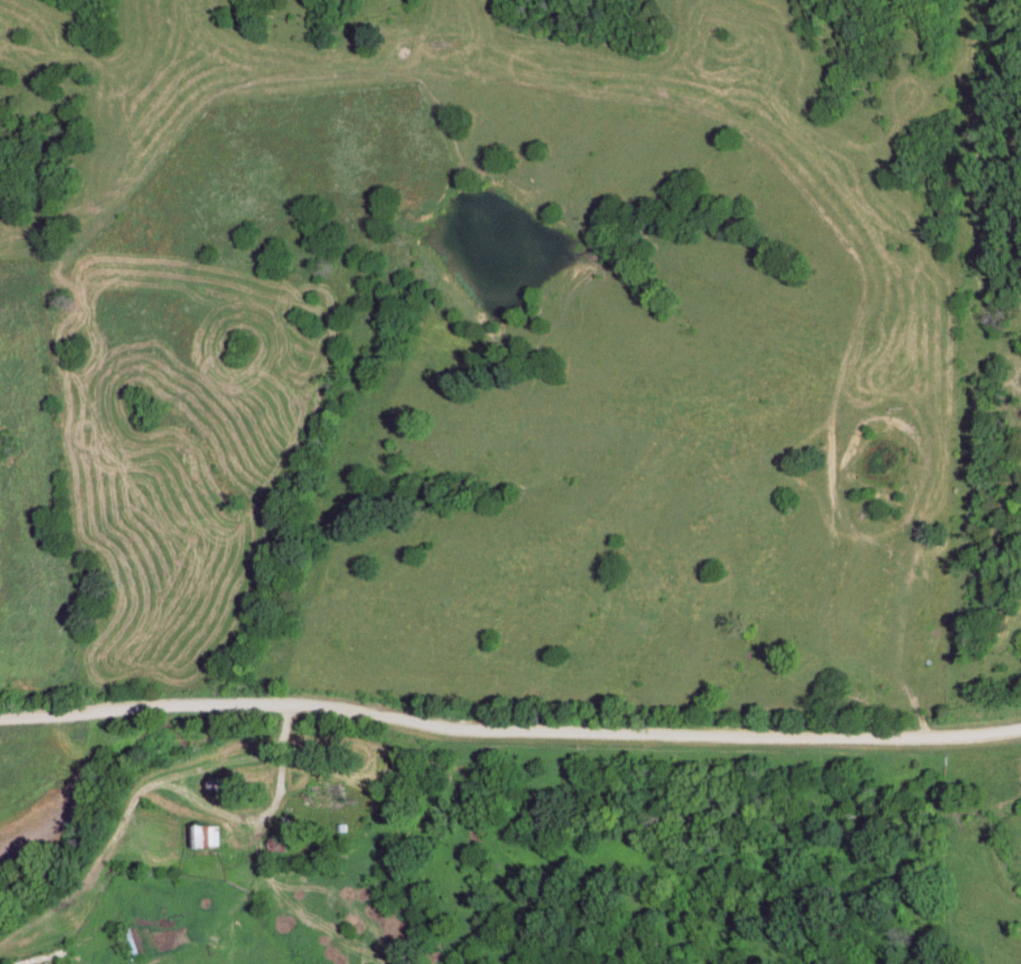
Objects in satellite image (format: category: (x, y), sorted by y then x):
road: (245, 706)
road: (101, 707)
road: (653, 736)
building: (327, 798)
building: (207, 837)
road: (259, 870)
road: (211, 924)
building: (132, 946)

